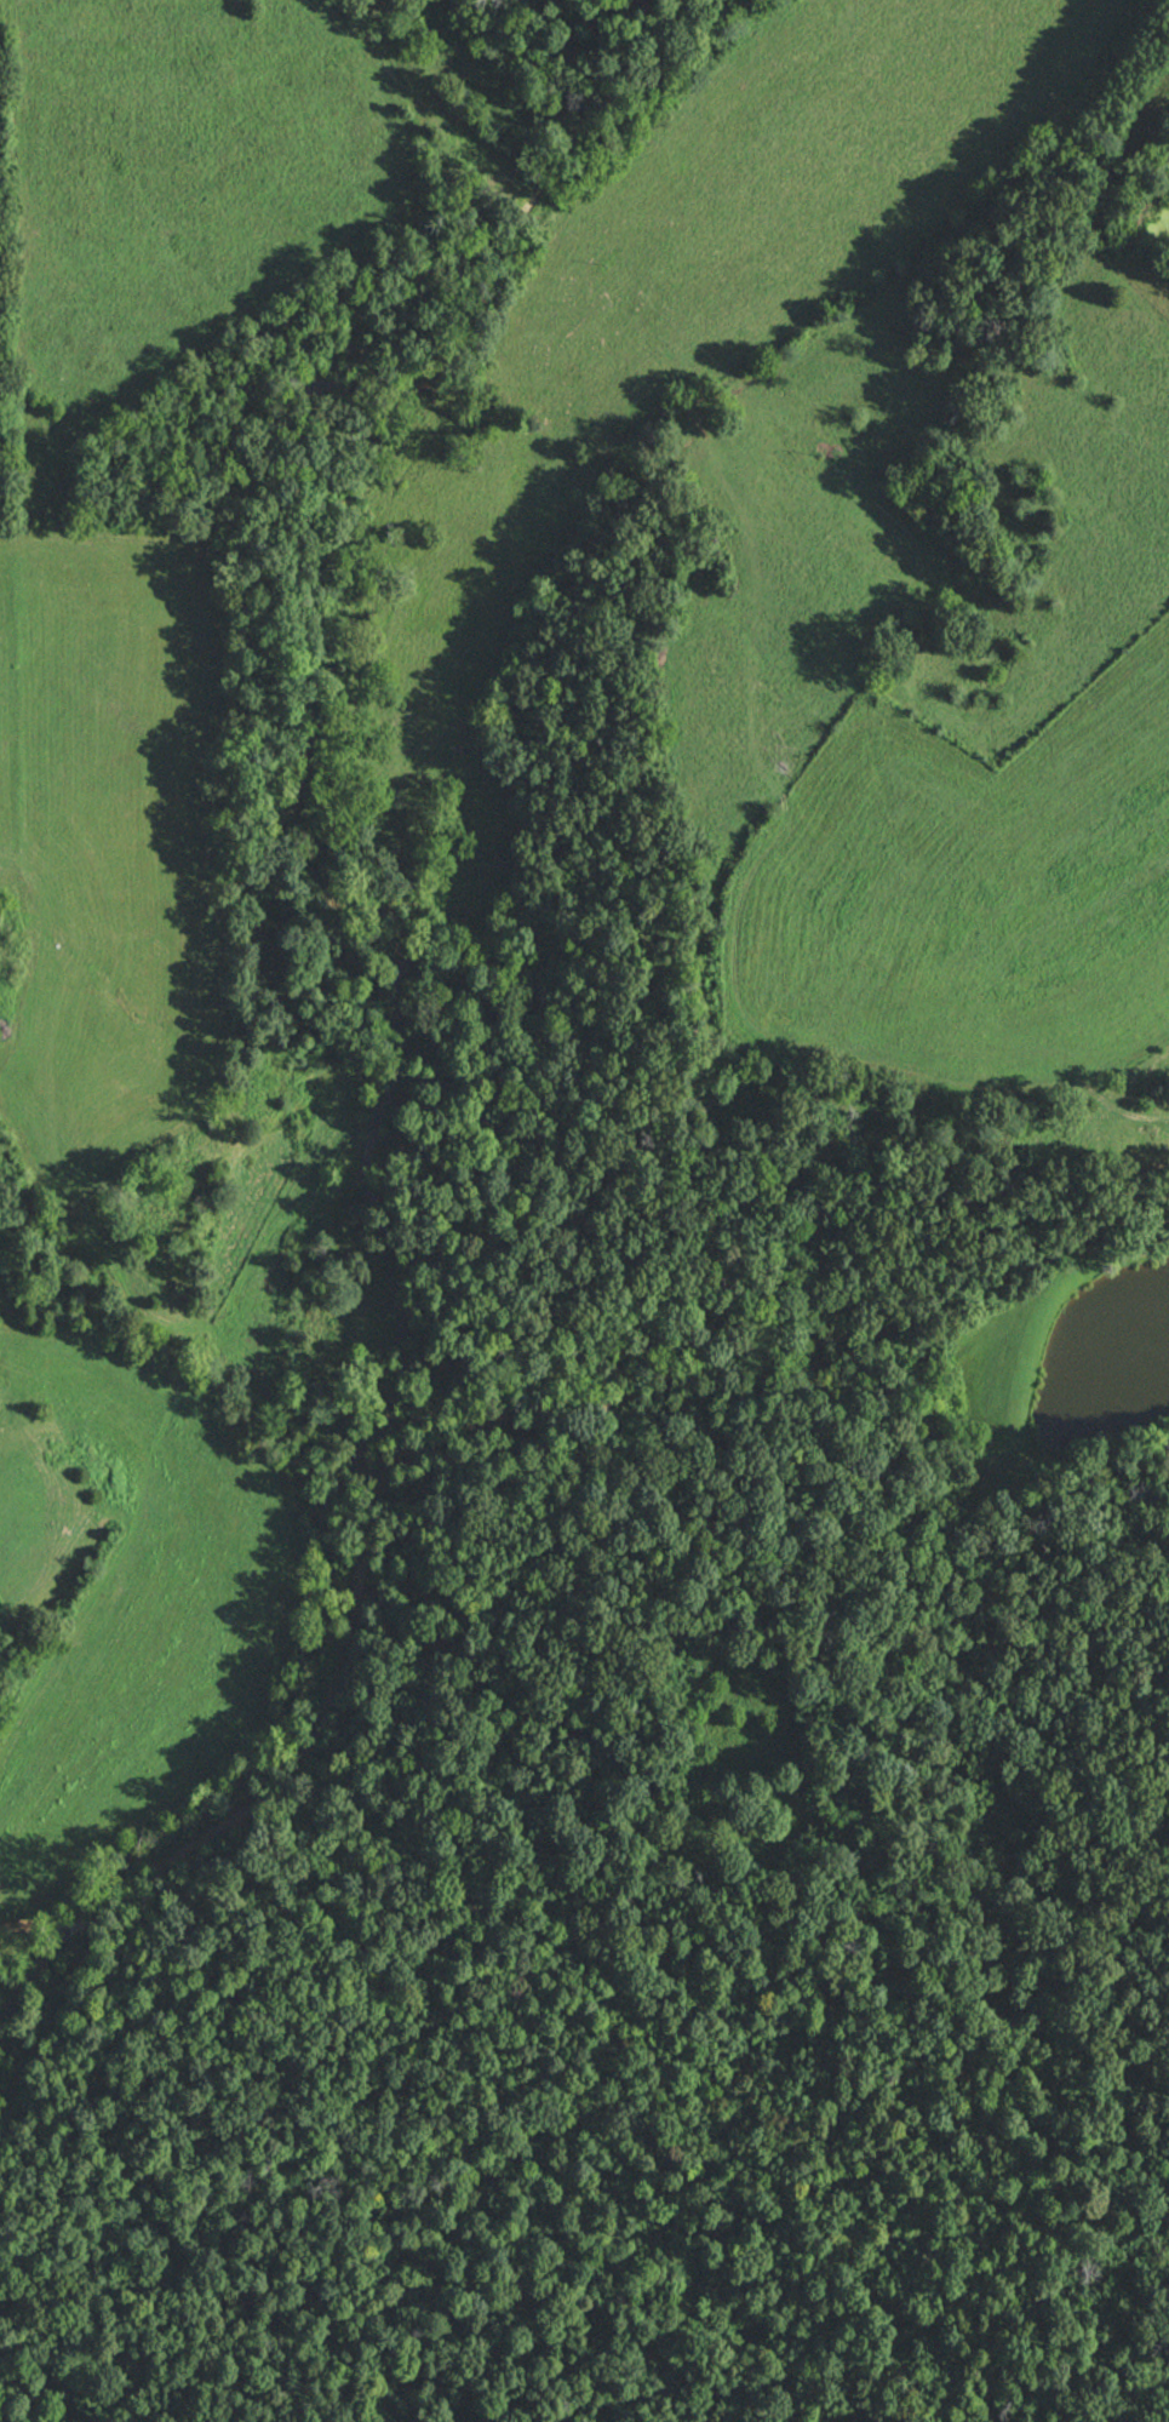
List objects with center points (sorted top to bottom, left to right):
road: (451, 1436)

